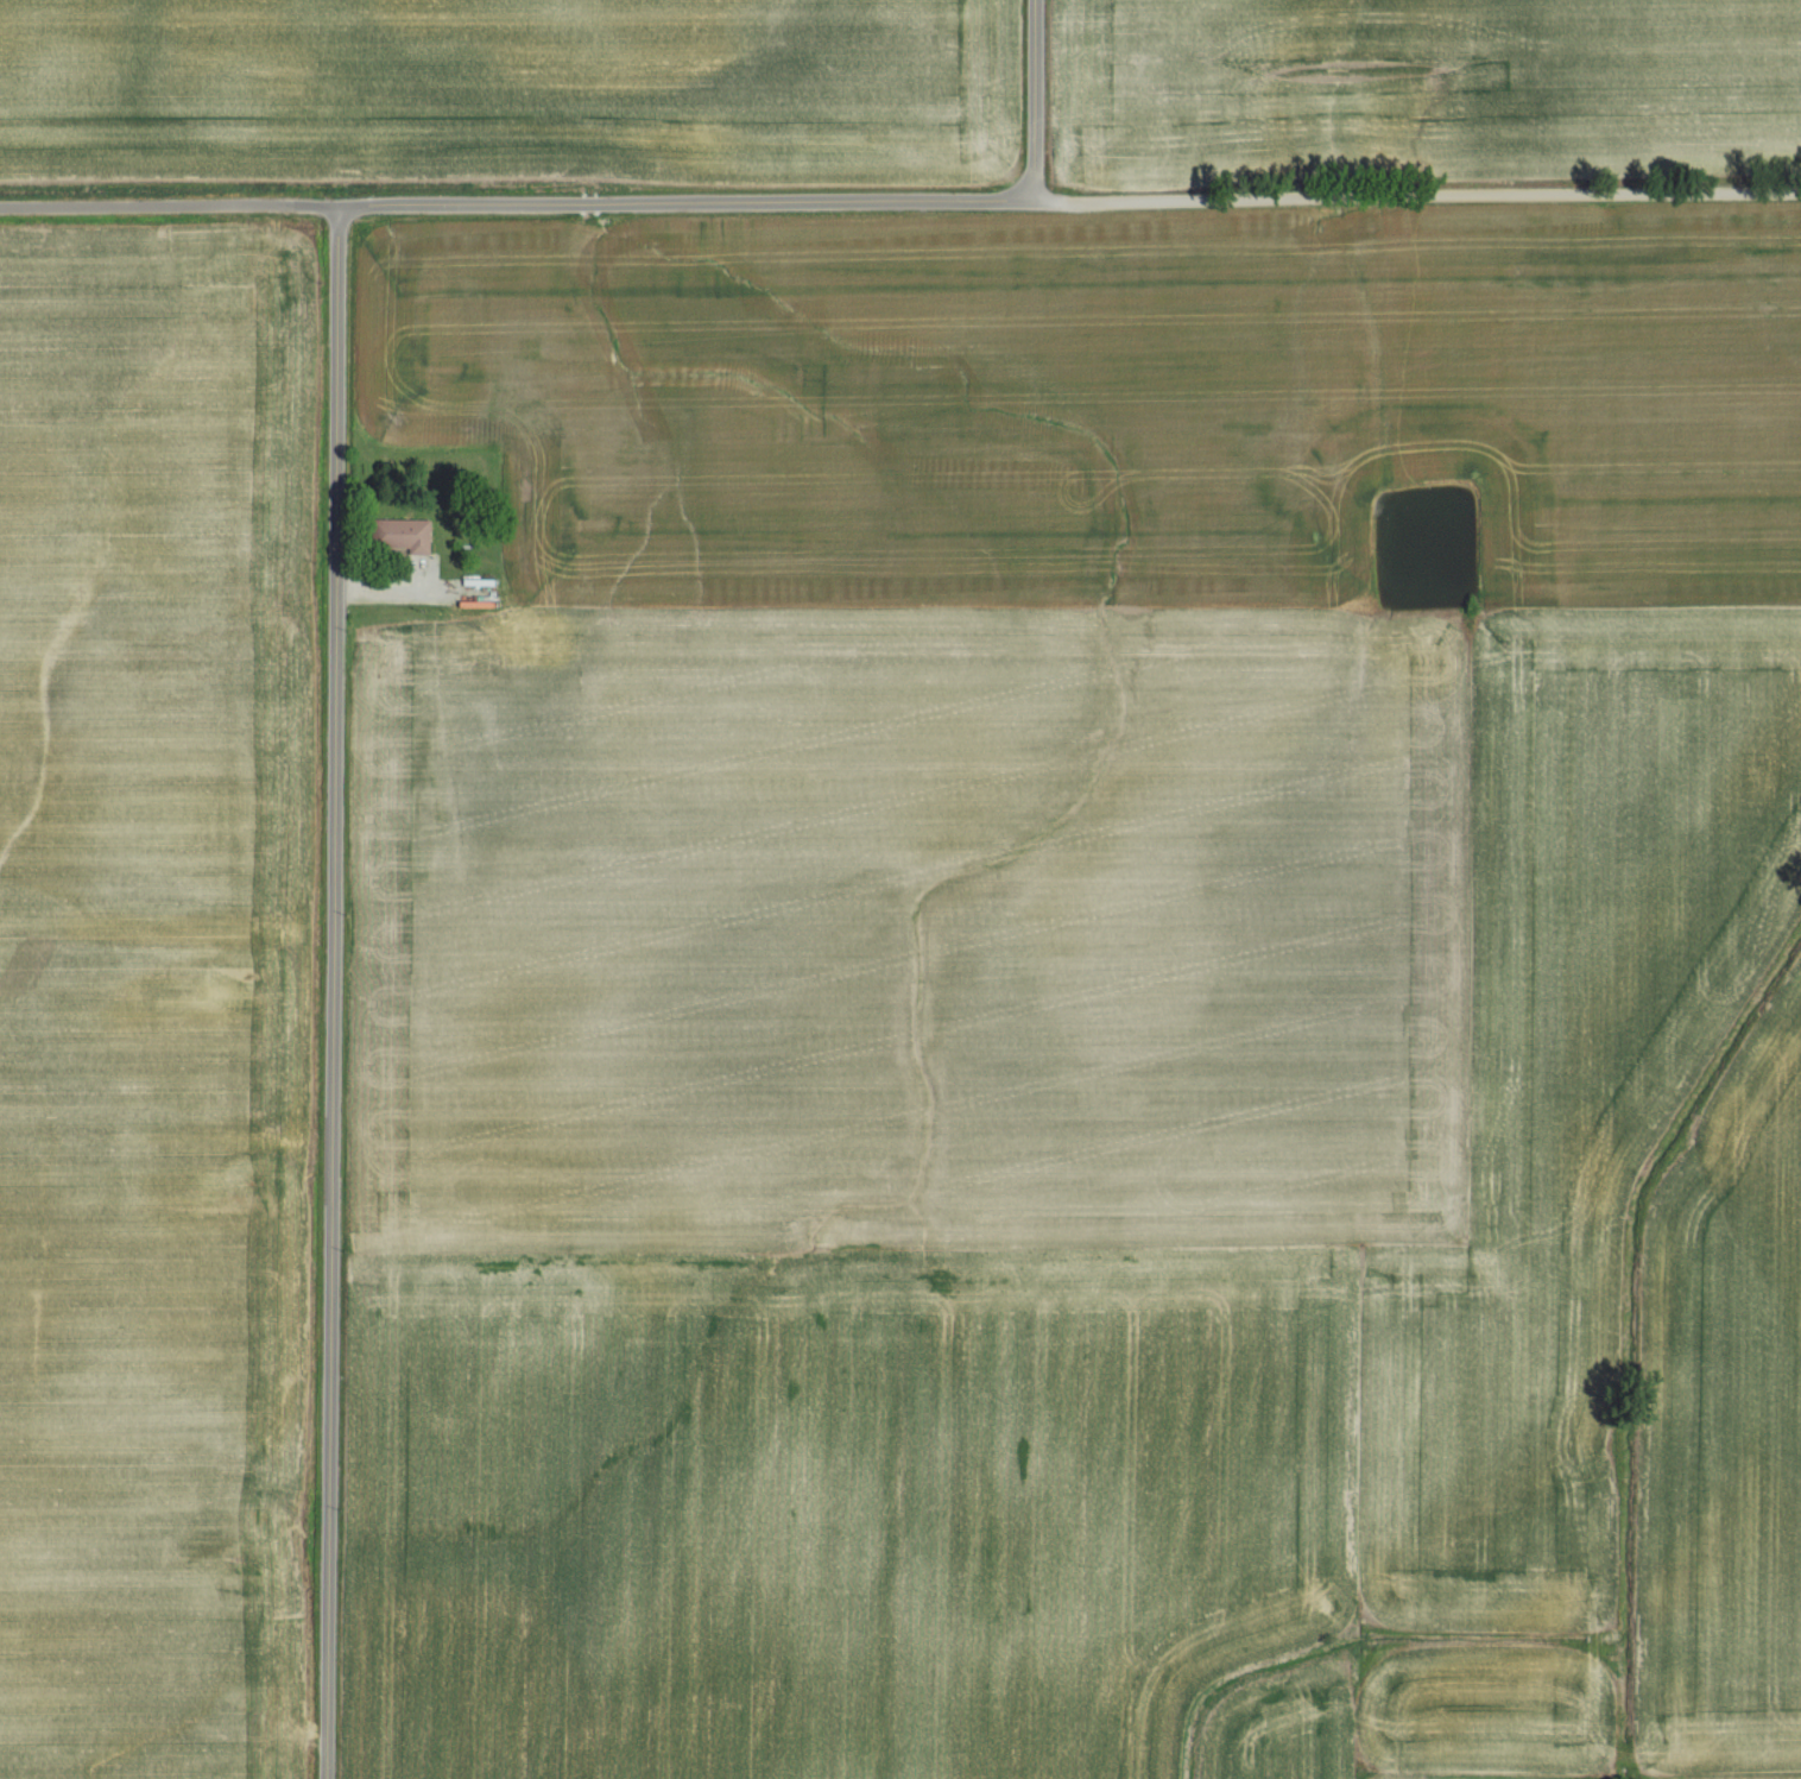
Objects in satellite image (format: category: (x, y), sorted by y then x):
road: (1032, 99)
road: (900, 201)
building: (415, 532)
road: (407, 589)
building: (484, 635)
road: (331, 992)

